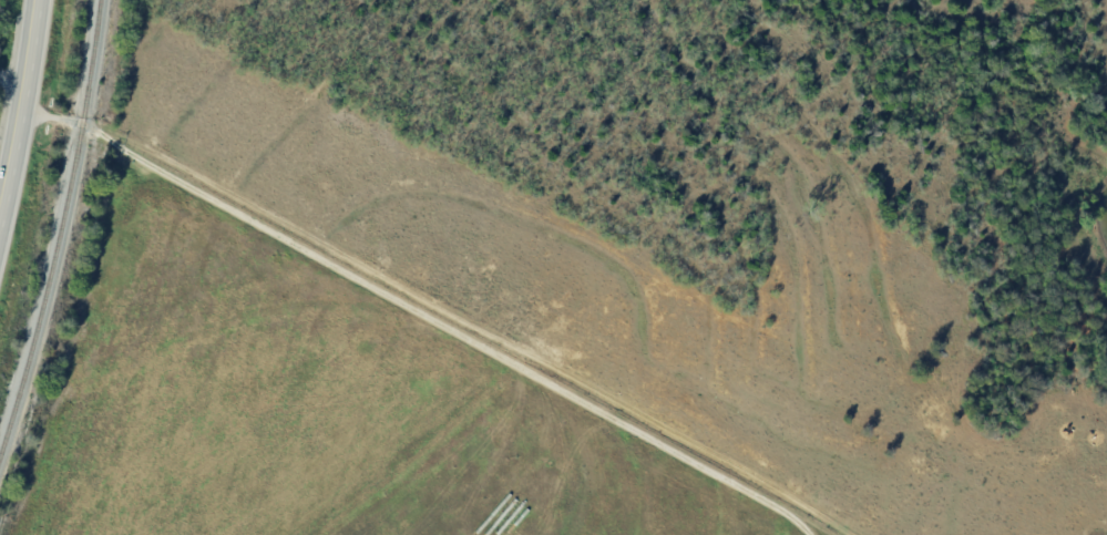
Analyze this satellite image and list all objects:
road: (40, 104)
road: (23, 115)
road: (215, 188)
railway: (62, 233)
road: (588, 395)

